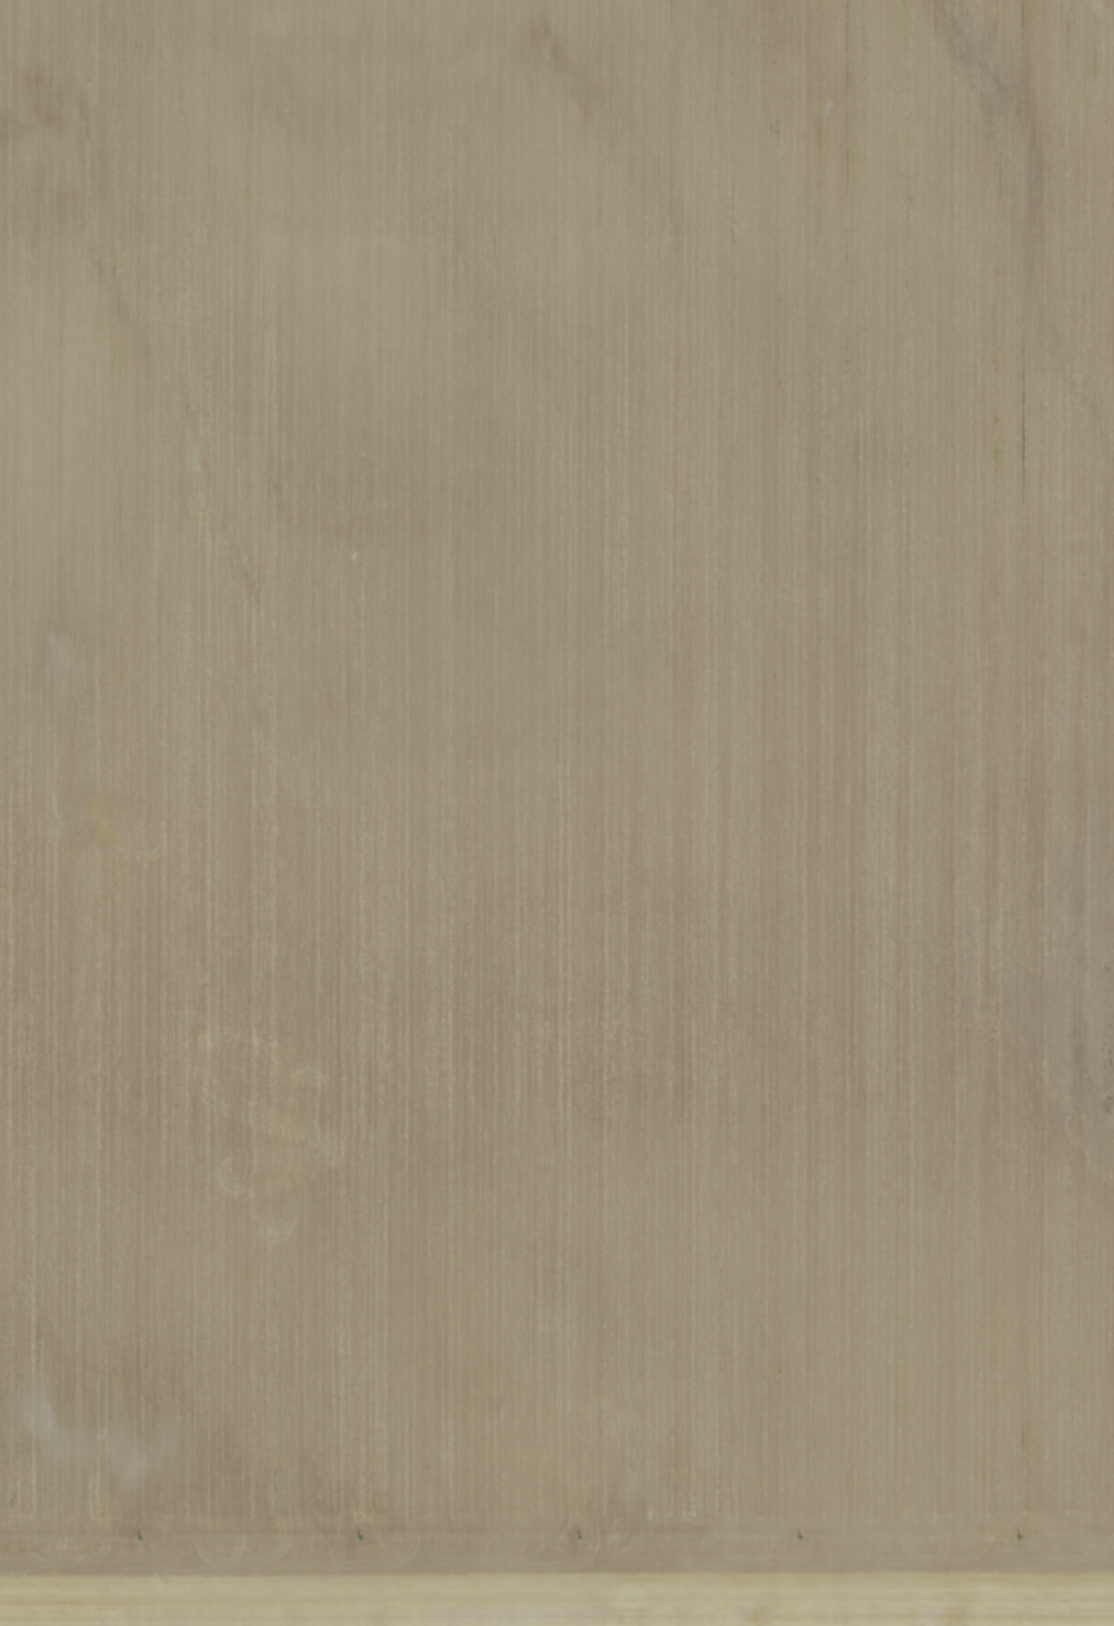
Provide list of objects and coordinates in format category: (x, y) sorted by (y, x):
crop: (557, 812)

